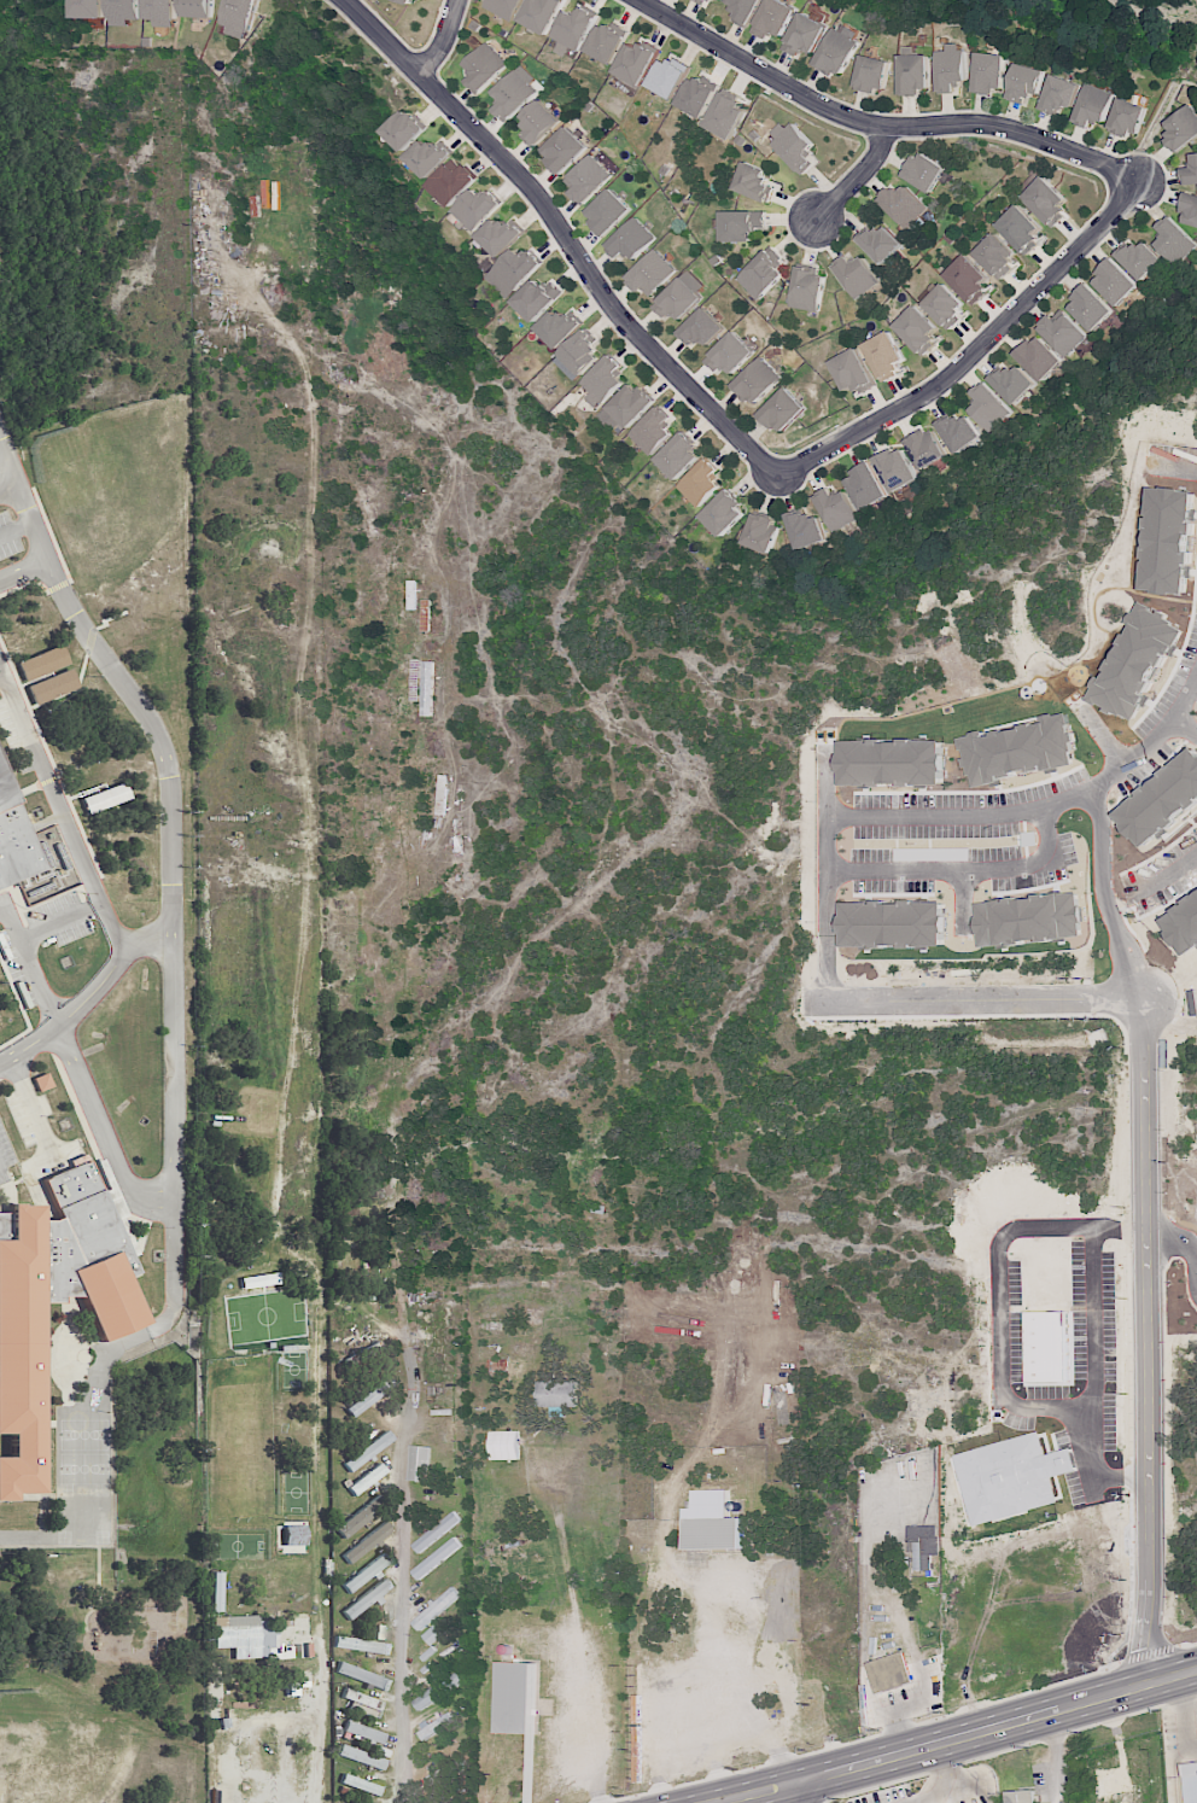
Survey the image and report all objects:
building: (405, 0)
building: (720, 0)
building: (701, 1)
building: (506, 7)
building: (88, 8)
building: (197, 8)
building: (122, 11)
building: (743, 11)
building: (159, 12)
building: (541, 13)
building: (238, 18)
building: (773, 18)
building: (573, 29)
building: (805, 35)
road: (442, 40)
building: (605, 42)
building: (836, 52)
building: (633, 63)
building: (485, 66)
building: (950, 66)
building: (988, 71)
building: (913, 72)
building: (871, 74)
building: (666, 77)
building: (1024, 82)
building: (514, 92)
building: (1058, 94)
building: (696, 95)
building: (1093, 105)
building: (726, 116)
building: (1127, 117)
building: (538, 122)
road: (874, 124)
building: (1183, 128)
building: (403, 129)
building: (794, 145)
building: (564, 148)
building: (428, 157)
building: (923, 170)
building: (1190, 171)
building: (588, 179)
road: (857, 179)
building: (753, 181)
building: (452, 182)
building: (1045, 199)
building: (903, 204)
building: (477, 208)
building: (1190, 210)
building: (608, 211)
building: (740, 224)
building: (1020, 227)
road: (564, 234)
building: (498, 235)
building: (631, 239)
building: (1173, 240)
building: (881, 243)
building: (995, 255)
building: (1139, 258)
building: (514, 270)
building: (652, 273)
building: (856, 275)
building: (968, 279)
building: (1114, 281)
building: (807, 287)
building: (537, 298)
building: (677, 299)
building: (942, 304)
building: (1090, 307)
building: (557, 326)
building: (701, 328)
building: (916, 329)
building: (1063, 333)
building: (730, 354)
building: (883, 355)
road: (971, 356)
building: (1039, 357)
building: (851, 370)
building: (603, 380)
building: (755, 381)
building: (1012, 383)
building: (626, 407)
building: (988, 407)
building: (783, 410)
building: (652, 431)
building: (959, 431)
building: (924, 448)
building: (678, 456)
building: (895, 468)
road: (1174, 469)
building: (701, 483)
road: (7, 486)
park: (118, 486)
building: (865, 486)
building: (836, 508)
building: (723, 513)
road: (16, 529)
building: (805, 529)
building: (760, 531)
road: (51, 532)
parking lot: (8, 536)
road: (23, 571)
road: (24, 583)
road: (58, 585)
road: (104, 620)
road: (69, 690)
road: (1185, 728)
road: (1102, 735)
road: (49, 757)
road: (167, 771)
road: (824, 783)
building: (105, 798)
road: (64, 816)
road: (868, 817)
road: (1099, 818)
building: (13, 840)
road: (968, 870)
road: (1163, 874)
parking lot: (40, 941)
road: (24, 943)
road: (971, 1002)
road: (14, 1037)
building: (42, 1081)
road: (92, 1144)
parking lot: (5, 1153)
road: (171, 1174)
building: (1044, 1195)
building: (112, 1201)
road: (1174, 1236)
road: (173, 1266)
road: (998, 1289)
building: (53, 1300)
park: (267, 1315)
road: (1146, 1342)
road: (1092, 1378)
building: (556, 1393)
building: (368, 1398)
park: (83, 1434)
park: (241, 1436)
building: (503, 1445)
road: (110, 1447)
building: (368, 1451)
building: (418, 1463)
park: (83, 1468)
park: (296, 1492)
building: (358, 1517)
building: (711, 1521)
building: (436, 1531)
road: (28, 1536)
building: (367, 1542)
park: (237, 1545)
building: (922, 1545)
building: (436, 1558)
building: (364, 1574)
road: (404, 1575)
building: (367, 1598)
building: (279, 1607)
building: (434, 1607)
building: (432, 1633)
building: (244, 1635)
building: (362, 1645)
building: (888, 1671)
building: (362, 1675)
building: (437, 1691)
building: (515, 1698)
building: (363, 1703)
road: (1183, 1712)
road: (322, 1720)
building: (436, 1725)
road: (1050, 1727)
road: (900, 1728)
building: (363, 1732)
road: (954, 1739)
park: (66, 1745)
road: (1009, 1747)
building: (361, 1756)
road: (944, 1768)
road: (1175, 1768)
road: (1053, 1772)
building: (1189, 1780)
building: (360, 1784)
road: (985, 1790)
road: (804, 1792)
road: (944, 1792)
building: (1020, 1796)

